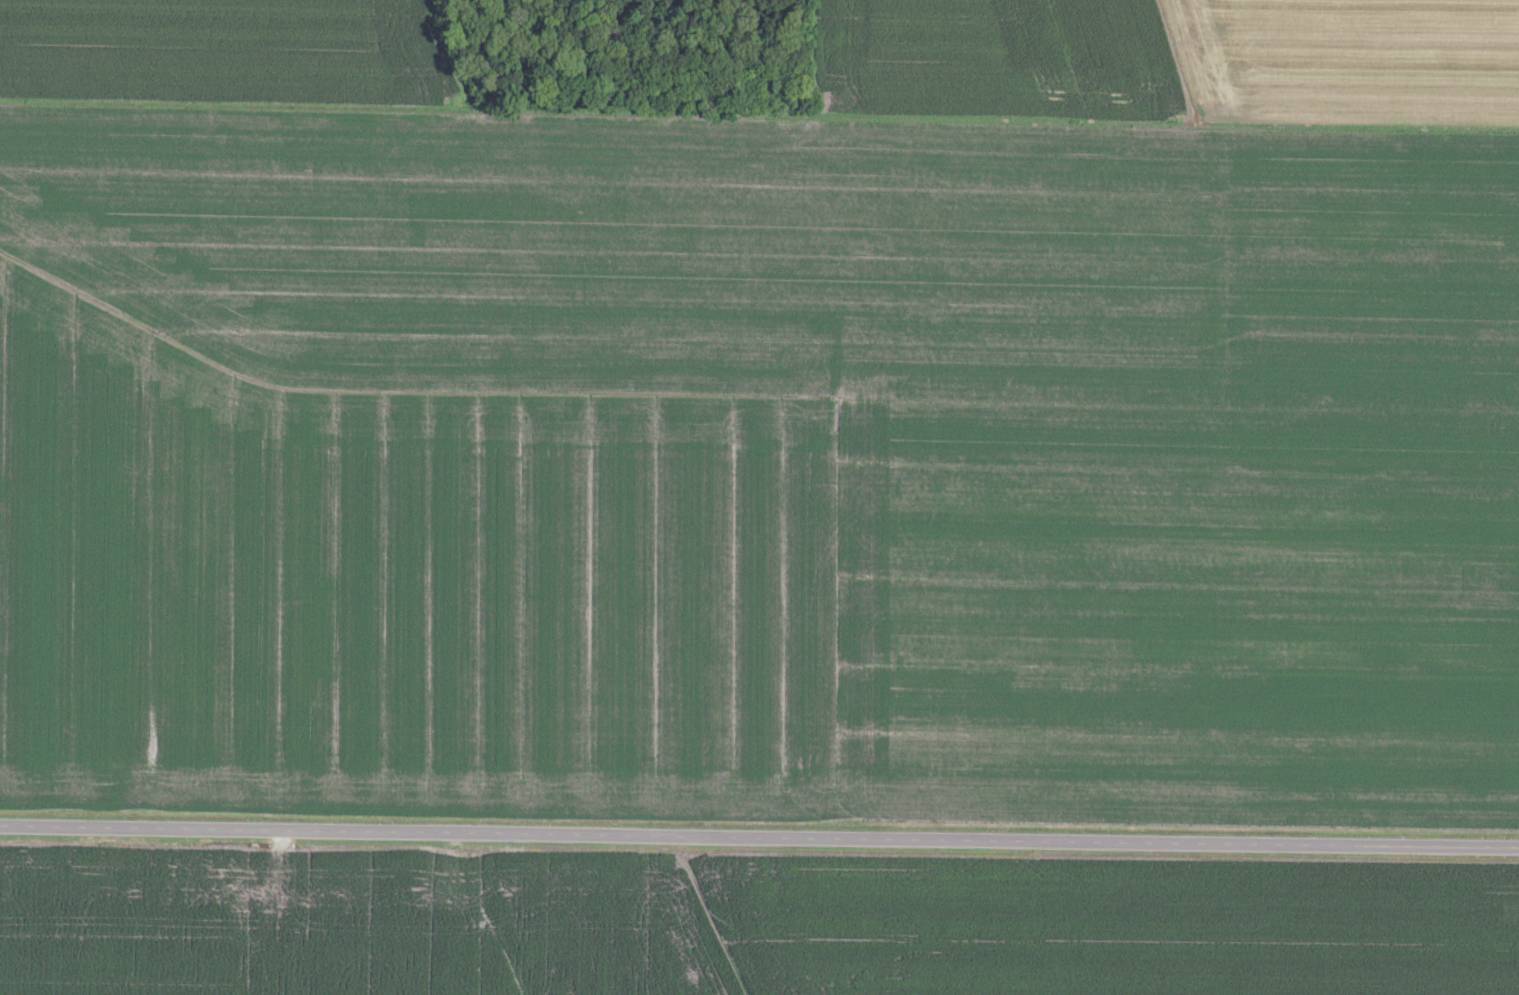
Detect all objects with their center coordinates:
road: (759, 835)

